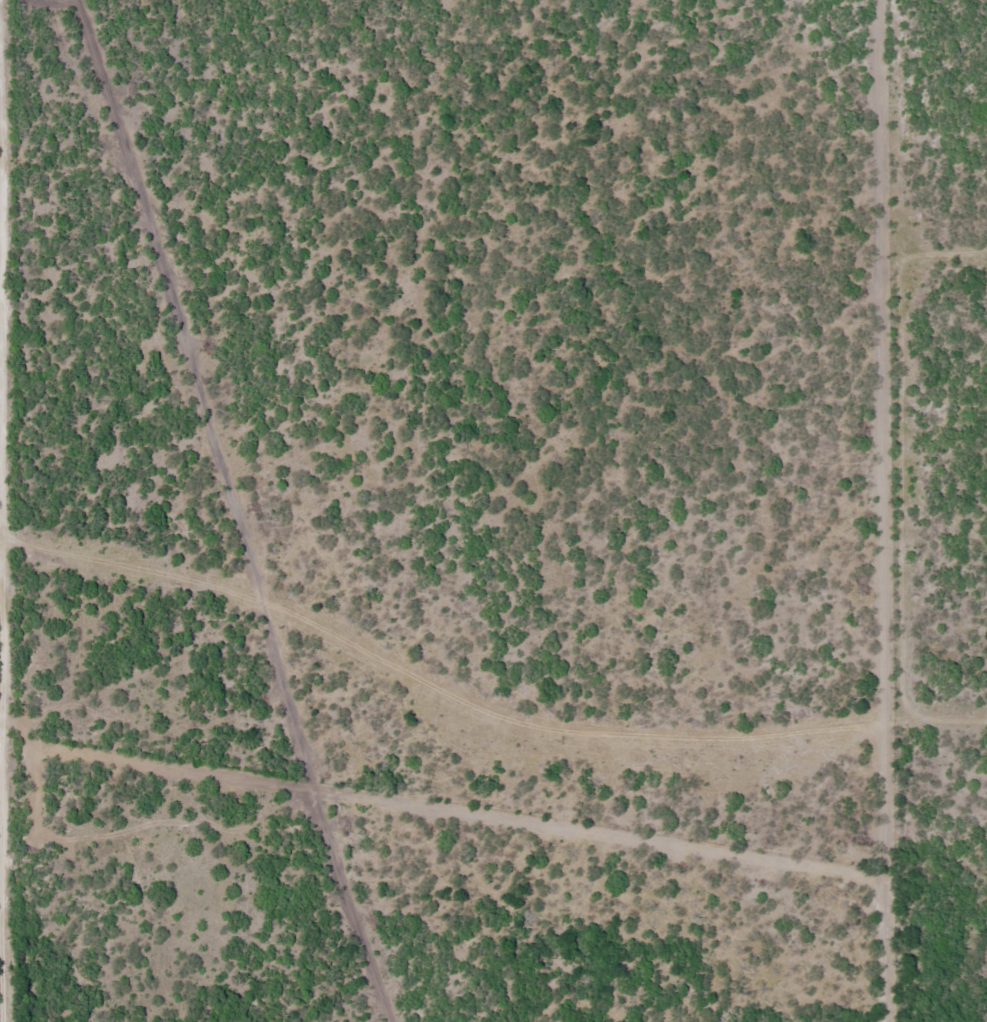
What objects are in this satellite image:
road: (4, 807)

